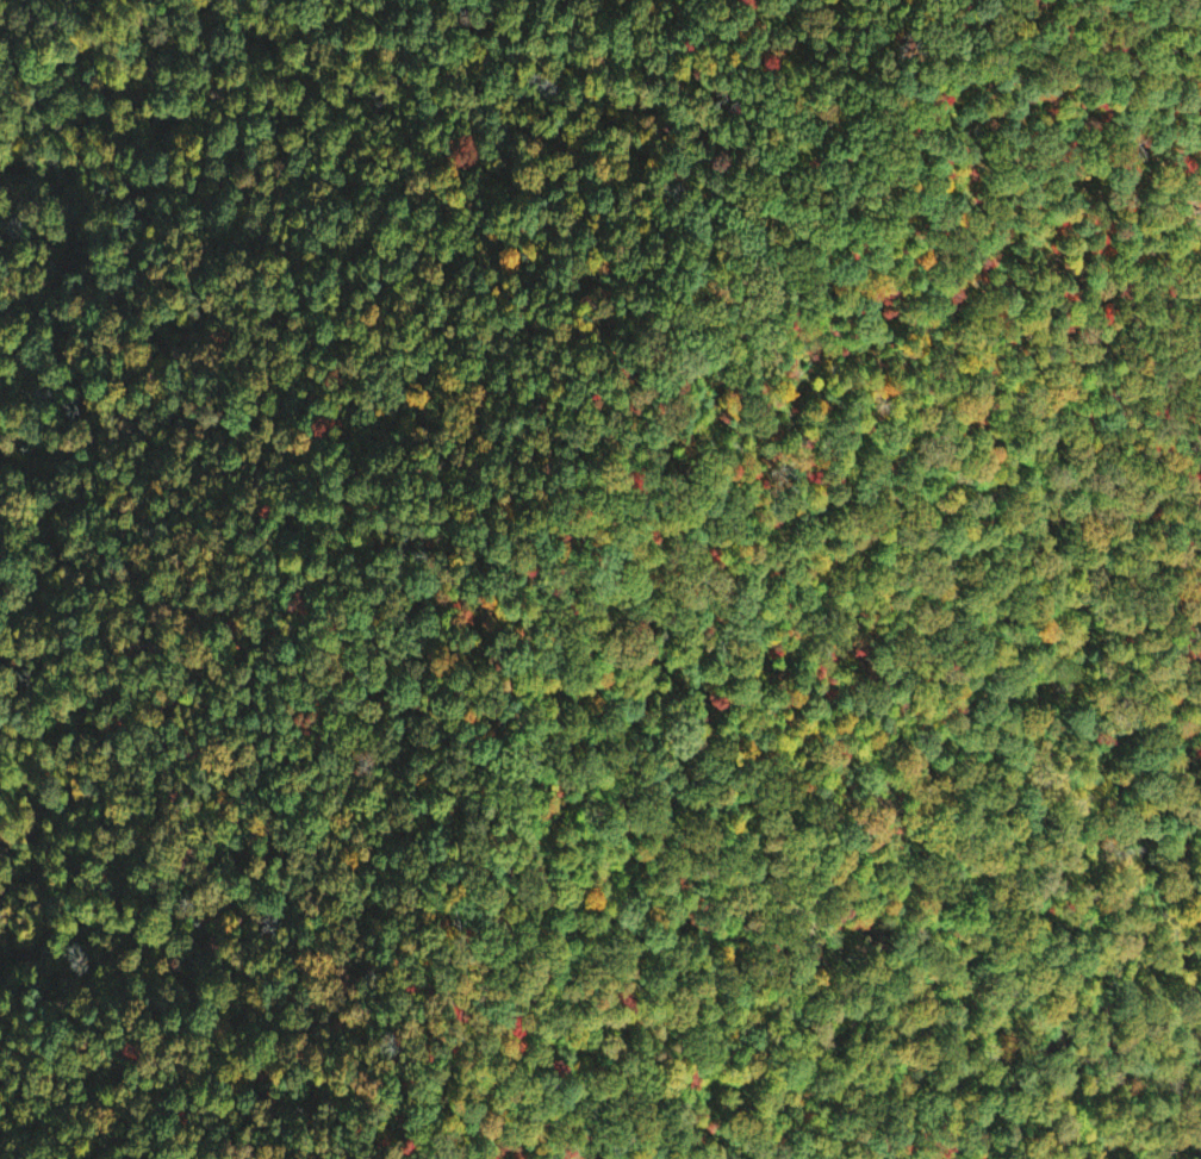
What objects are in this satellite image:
road: (618, 256)
road: (891, 426)

